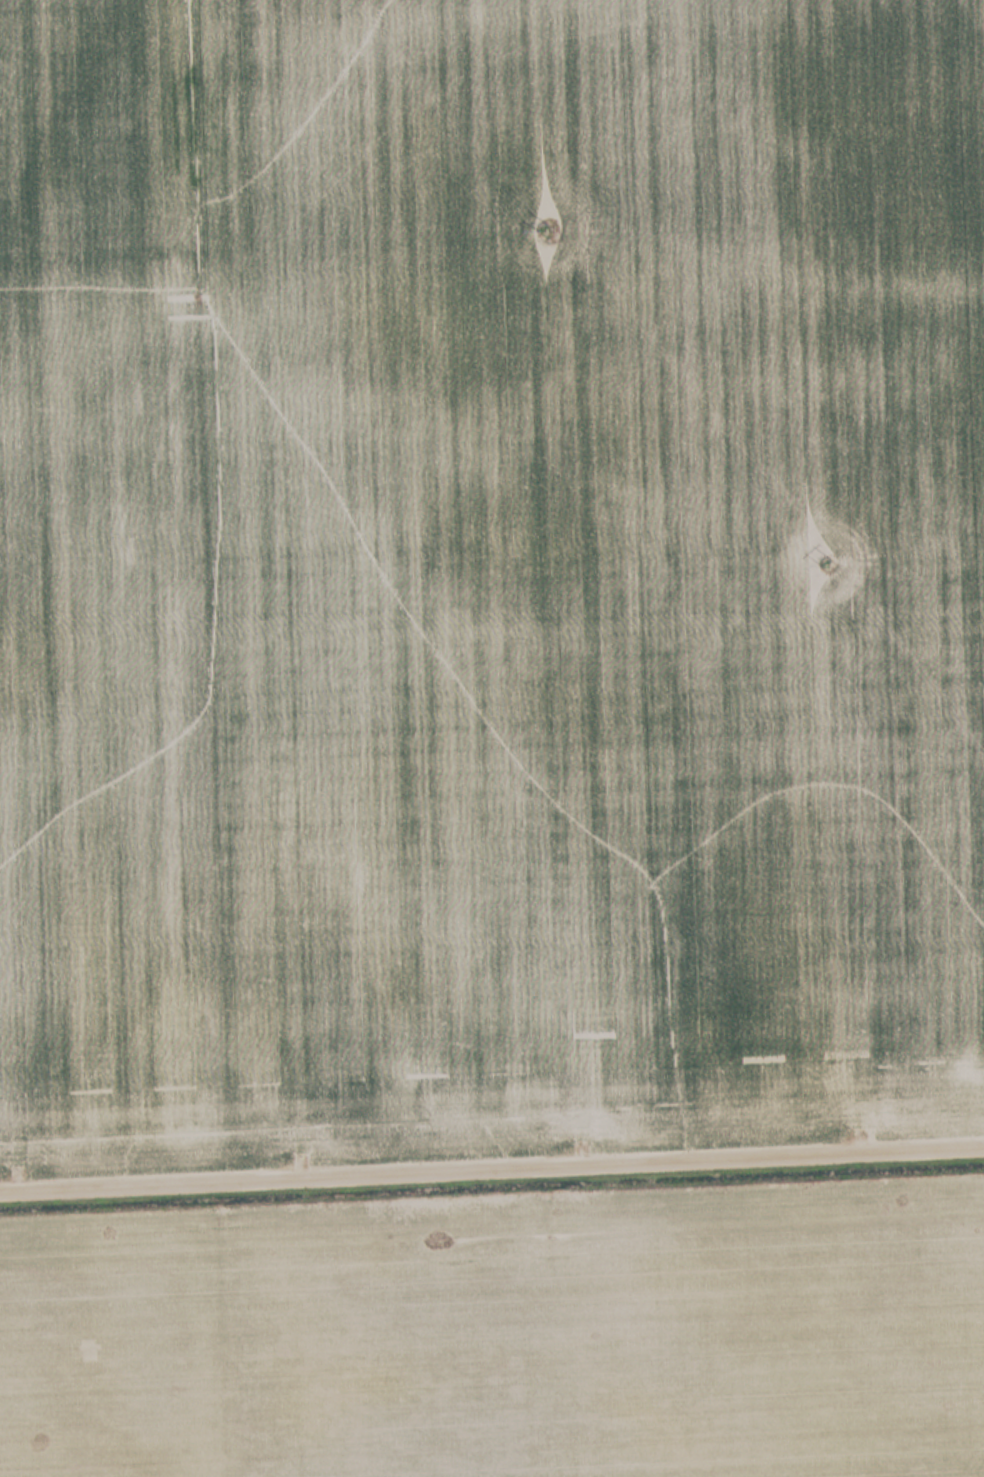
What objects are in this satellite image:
power tower: (548, 232)
power tower: (835, 559)
road: (492, 1177)

